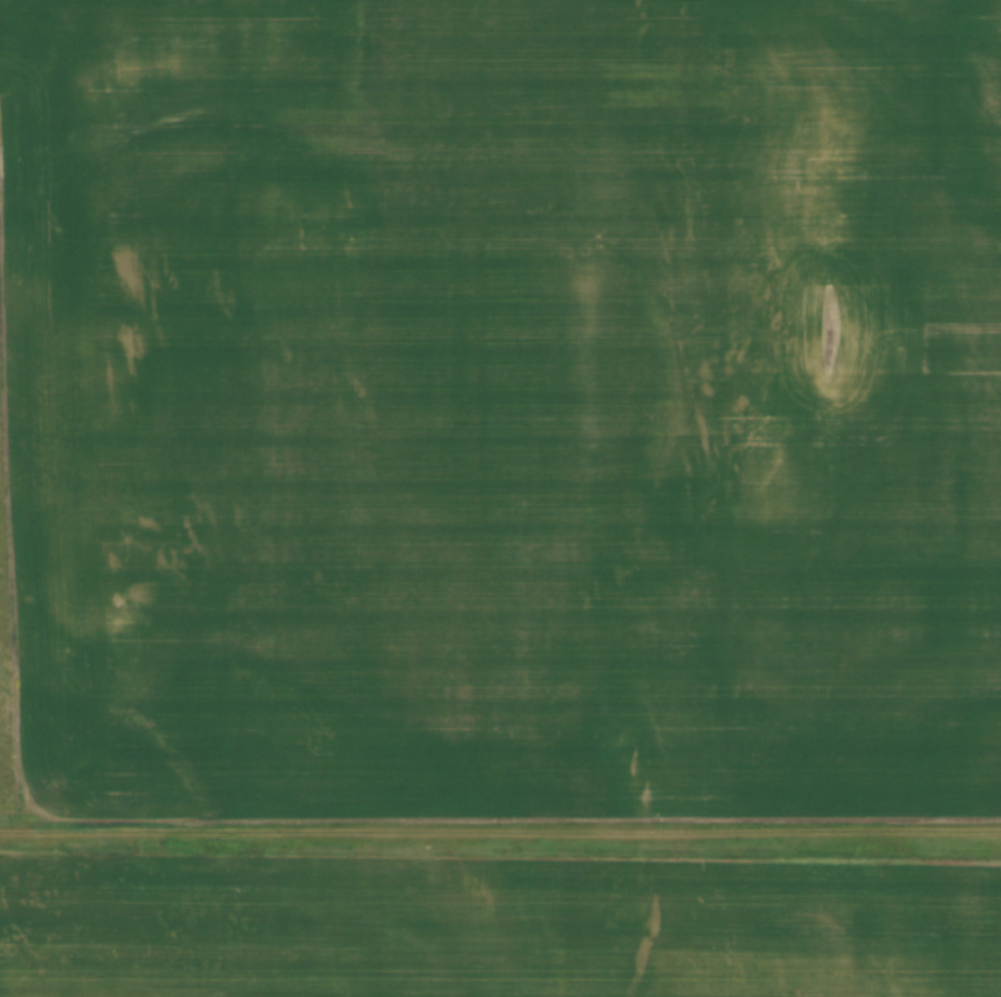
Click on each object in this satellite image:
road: (500, 833)

